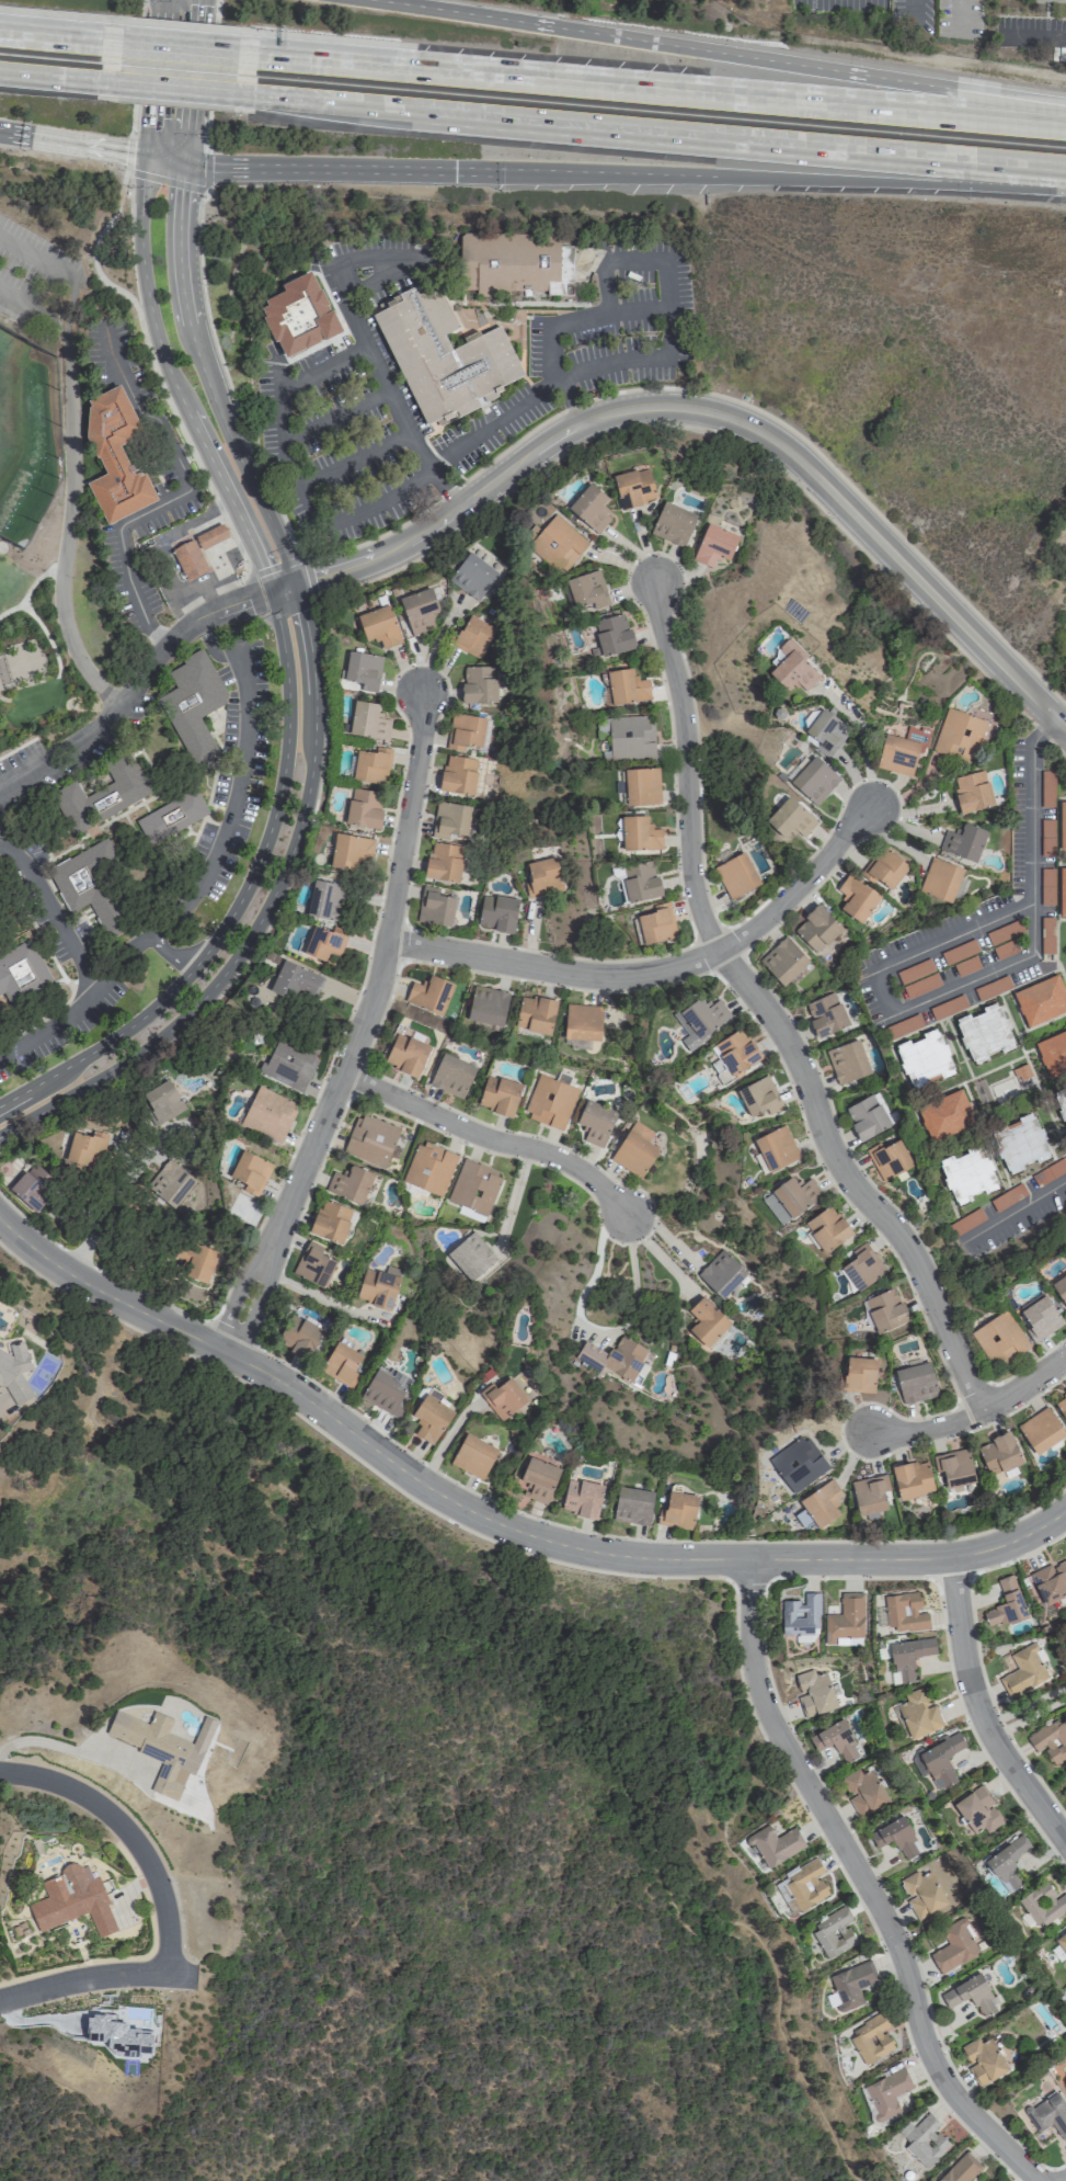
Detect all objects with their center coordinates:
building: (1051, 0)
road: (140, 8)
road: (216, 11)
road: (961, 15)
road: (1032, 36)
road: (59, 38)
road: (177, 49)
road: (720, 52)
road: (153, 77)
road: (58, 79)
road: (188, 81)
road: (174, 89)
road: (651, 89)
road: (326, 101)
road: (130, 120)
road: (205, 130)
road: (743, 140)
road: (72, 143)
road: (127, 152)
traffic signals: (146, 155)
road: (163, 159)
traffic signals: (182, 163)
road: (204, 170)
traffic signals: (455, 171)
road: (623, 173)
road: (164, 180)
road: (93, 242)
road: (588, 259)
building: (514, 261)
road: (58, 269)
road: (33, 308)
road: (637, 310)
building: (297, 311)
road: (362, 337)
parking lot: (591, 348)
building: (440, 354)
road: (202, 370)
road: (168, 372)
road: (560, 379)
parking lot: (344, 401)
road: (706, 411)
road: (336, 414)
road: (536, 427)
road: (185, 442)
building: (116, 456)
road: (355, 458)
road: (293, 472)
building: (634, 486)
road: (179, 495)
building: (592, 508)
building: (675, 524)
road: (69, 525)
park: (48, 536)
building: (210, 536)
road: (160, 545)
building: (557, 545)
building: (714, 546)
road: (424, 553)
building: (191, 560)
building: (474, 577)
road: (307, 578)
road: (267, 580)
building: (588, 593)
road: (252, 594)
building: (420, 610)
building: (381, 626)
building: (614, 634)
building: (475, 636)
road: (206, 637)
building: (364, 670)
building: (791, 670)
road: (134, 684)
building: (480, 685)
building: (628, 688)
building: (193, 704)
building: (369, 720)
building: (467, 731)
building: (826, 731)
building: (959, 735)
building: (631, 737)
road: (861, 738)
building: (902, 751)
parking lot: (64, 757)
building: (371, 766)
building: (459, 774)
building: (812, 779)
building: (640, 786)
building: (1047, 788)
building: (972, 792)
building: (102, 794)
building: (364, 807)
building: (171, 817)
building: (454, 819)
building: (790, 819)
building: (1062, 826)
building: (640, 833)
road: (221, 839)
building: (963, 842)
building: (347, 852)
building: (444, 863)
building: (886, 870)
building: (736, 875)
building: (545, 877)
building: (940, 879)
building: (640, 881)
building: (89, 886)
building: (1062, 893)
building: (857, 898)
road: (237, 899)
building: (326, 899)
road: (264, 907)
building: (440, 907)
building: (498, 913)
road: (50, 915)
building: (656, 924)
building: (817, 928)
building: (322, 943)
road: (169, 950)
building: (783, 961)
building: (22, 973)
road: (658, 974)
building: (917, 978)
road: (976, 978)
building: (293, 980)
building: (432, 995)
building: (1041, 1000)
building: (490, 1006)
road: (766, 1009)
building: (825, 1014)
building: (535, 1015)
building: (703, 1021)
building: (584, 1022)
road: (49, 1029)
road: (358, 1030)
building: (984, 1033)
building: (736, 1052)
building: (1053, 1053)
building: (404, 1056)
building: (924, 1058)
building: (285, 1061)
building: (847, 1061)
building: (452, 1076)
building: (500, 1095)
building: (760, 1097)
building: (552, 1102)
building: (1062, 1102)
building: (160, 1103)
building: (945, 1114)
building: (268, 1115)
building: (867, 1117)
building: (595, 1123)
road: (490, 1139)
building: (375, 1140)
building: (1019, 1143)
building: (87, 1146)
building: (778, 1149)
building: (393, 1154)
building: (635, 1154)
building: (890, 1159)
building: (431, 1169)
building: (252, 1171)
building: (967, 1173)
building: (173, 1183)
building: (351, 1184)
building: (474, 1188)
building: (31, 1191)
road: (513, 1193)
building: (791, 1199)
building: (469, 1214)
road: (101, 1215)
road: (1013, 1215)
building: (332, 1220)
building: (827, 1228)
building: (473, 1258)
building: (200, 1263)
building: (314, 1263)
road: (92, 1268)
building: (864, 1269)
building: (723, 1274)
building: (1061, 1287)
building: (378, 1290)
road: (311, 1294)
building: (887, 1309)
building: (1041, 1318)
building: (708, 1321)
road: (595, 1328)
building: (299, 1337)
building: (1000, 1339)
building: (616, 1358)
building: (341, 1362)
building: (14, 1372)
building: (860, 1374)
building: (916, 1381)
building: (386, 1390)
building: (503, 1398)
building: (1062, 1404)
road: (974, 1410)
building: (432, 1418)
building: (1041, 1429)
building: (1001, 1453)
building: (473, 1455)
building: (799, 1464)
building: (955, 1466)
building: (539, 1477)
building: (913, 1479)
building: (872, 1493)
building: (582, 1497)
building: (822, 1501)
building: (633, 1507)
building: (679, 1511)
road: (497, 1522)
road: (466, 1527)
road: (860, 1540)
road: (1017, 1556)
building: (1051, 1581)
building: (1006, 1604)
building: (904, 1612)
building: (801, 1617)
building: (845, 1621)
building: (909, 1656)
road: (559, 1669)
building: (1022, 1671)
building: (814, 1692)
road: (1025, 1705)
road: (977, 1709)
building: (918, 1712)
building: (1051, 1739)
building: (836, 1740)
building: (154, 1747)
road: (65, 1748)
building: (941, 1759)
building: (863, 1793)
building: (978, 1810)
road: (126, 1829)
building: (895, 1837)
building: (775, 1844)
building: (1010, 1862)
road: (863, 1883)
building: (802, 1885)
building: (921, 1893)
building: (72, 1900)
building: (1042, 1904)
building: (833, 1932)
building: (1062, 1941)
building: (953, 1946)
road: (81, 1975)
building: (849, 1986)
building: (971, 1995)
road: (899, 2011)
building: (117, 2035)
building: (871, 2037)
building: (984, 2059)
building: (886, 2091)
building: (1046, 2109)
building: (924, 2139)
building: (961, 2168)

